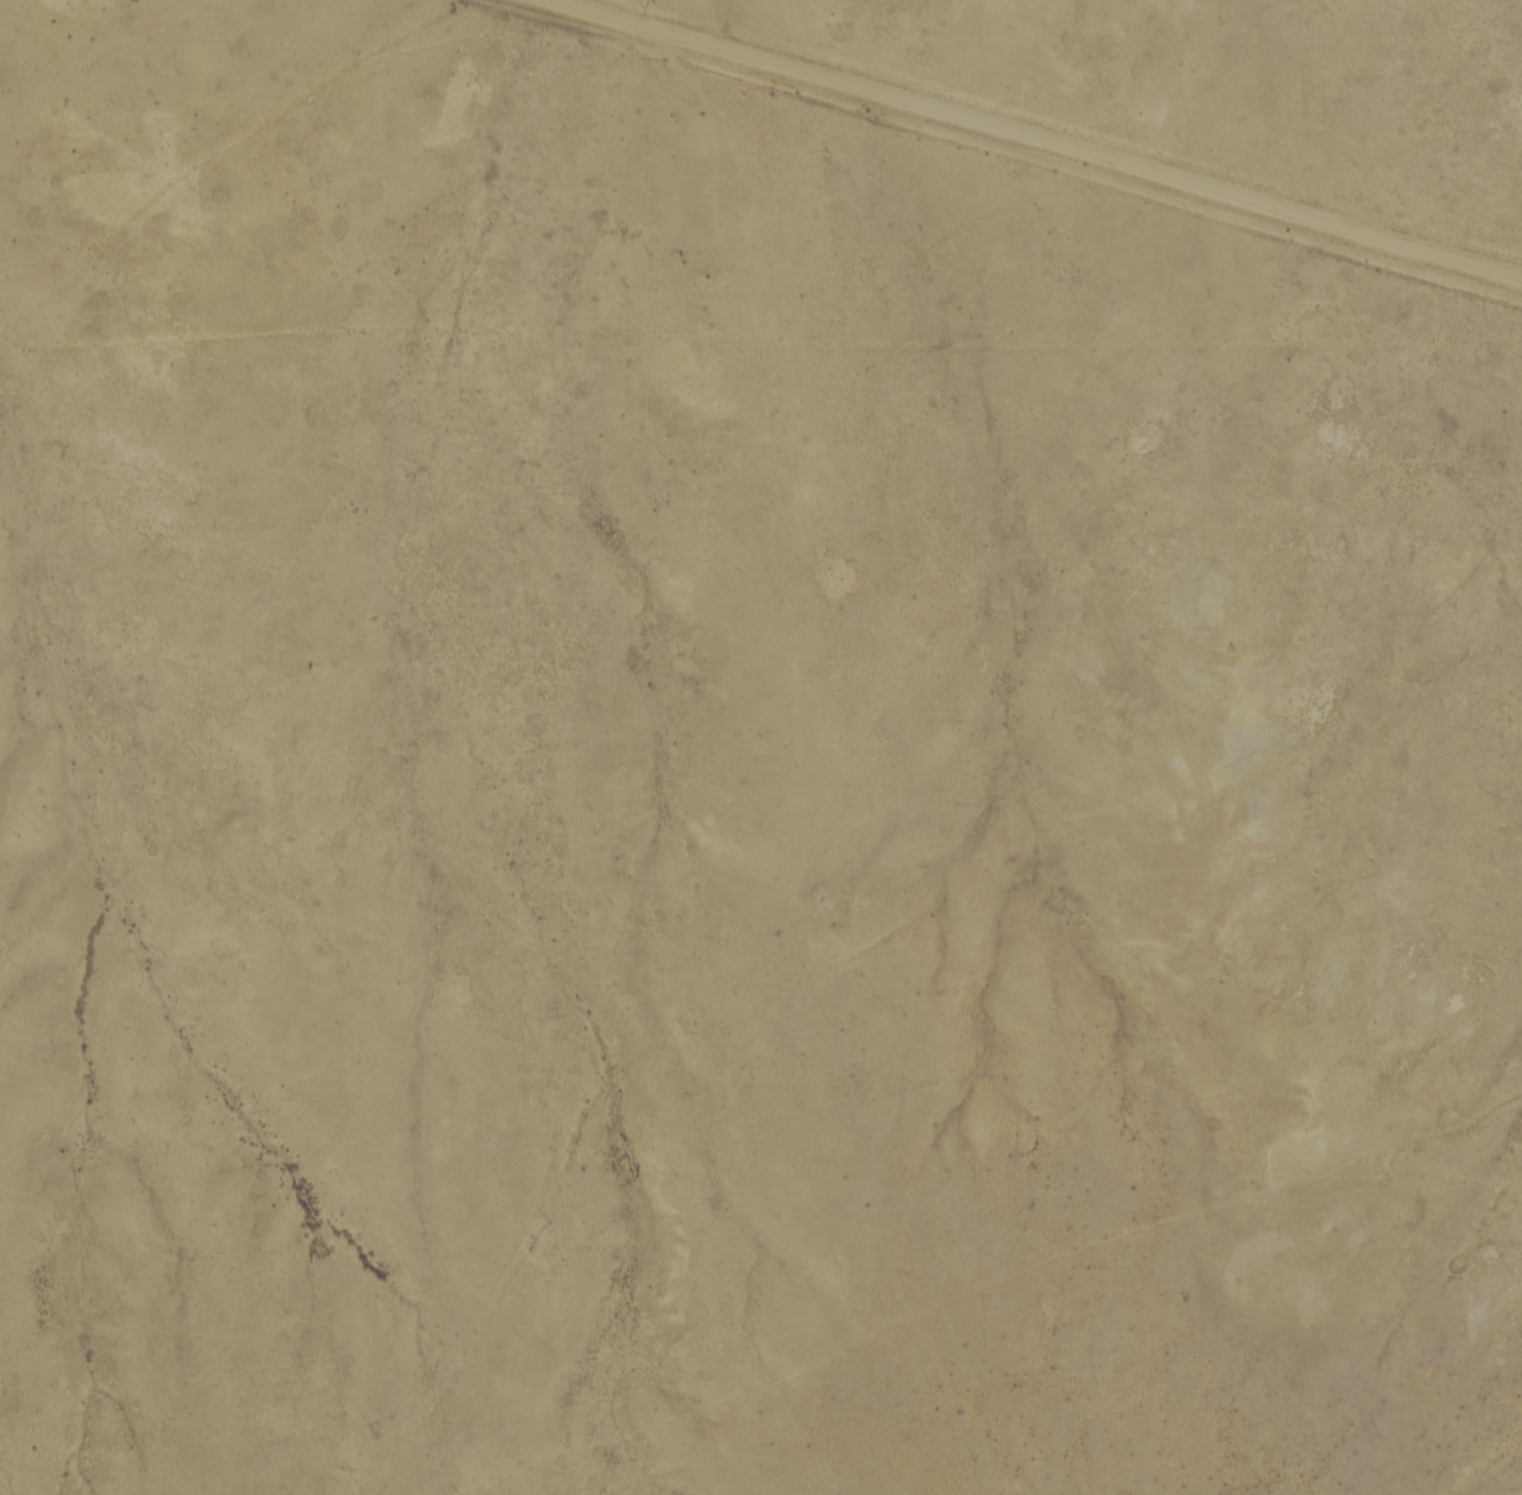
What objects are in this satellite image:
road: (1038, 137)

